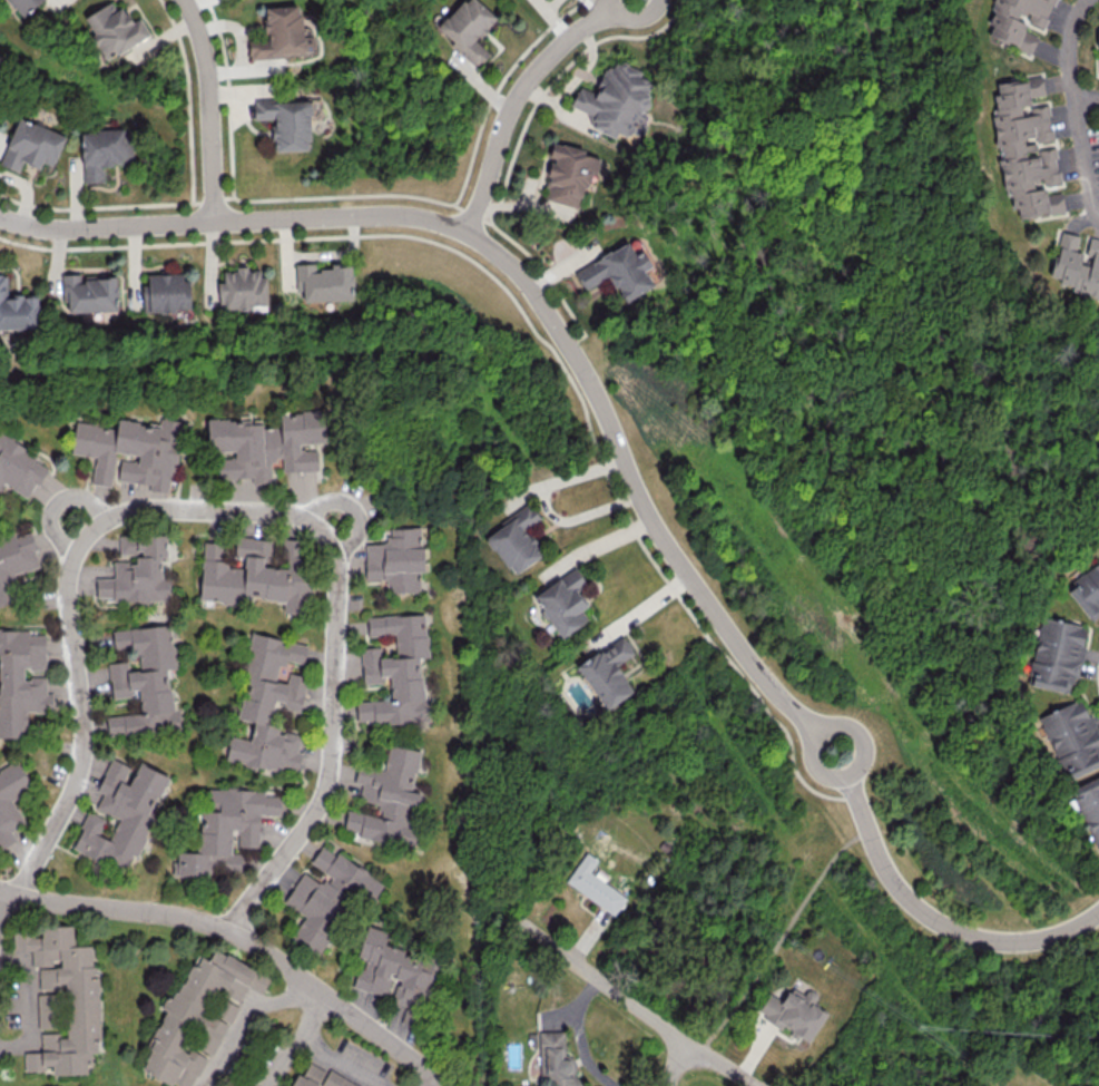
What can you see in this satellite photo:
building: (23, 4)
building: (1017, 21)
building: (468, 28)
building: (115, 29)
building: (283, 35)
building: (1098, 46)
road: (524, 98)
building: (617, 100)
road: (1075, 106)
road: (209, 108)
road: (1088, 116)
building: (287, 123)
building: (31, 145)
building: (1026, 147)
building: (104, 151)
building: (568, 175)
road: (233, 223)
building: (1077, 264)
building: (618, 271)
road: (548, 280)
building: (324, 282)
building: (243, 288)
building: (89, 292)
building: (166, 292)
building: (17, 310)
road: (585, 411)
building: (266, 446)
building: (129, 450)
building: (19, 468)
road: (634, 486)
road: (57, 501)
road: (544, 507)
road: (352, 509)
road: (233, 512)
building: (517, 541)
building: (396, 559)
building: (16, 561)
building: (137, 570)
building: (256, 573)
building: (1087, 591)
building: (563, 601)
building: (1057, 655)
building: (395, 671)
building: (608, 672)
building: (21, 681)
building: (144, 682)
building: (268, 704)
road: (826, 722)
building: (1072, 737)
building: (387, 799)
building: (11, 803)
building: (1089, 806)
building: (121, 812)
building: (227, 826)
building: (595, 884)
building: (327, 896)
road: (2, 900)
road: (938, 921)
road: (781, 936)
road: (245, 940)
building: (393, 974)
road: (628, 999)
road: (23, 1008)
building: (43, 1010)
building: (82, 1010)
building: (794, 1012)
building: (198, 1016)
road: (244, 1017)
road: (578, 1035)
road: (300, 1039)
building: (556, 1057)
road: (338, 1063)
road: (678, 1064)
building: (321, 1077)
road: (429, 1079)

